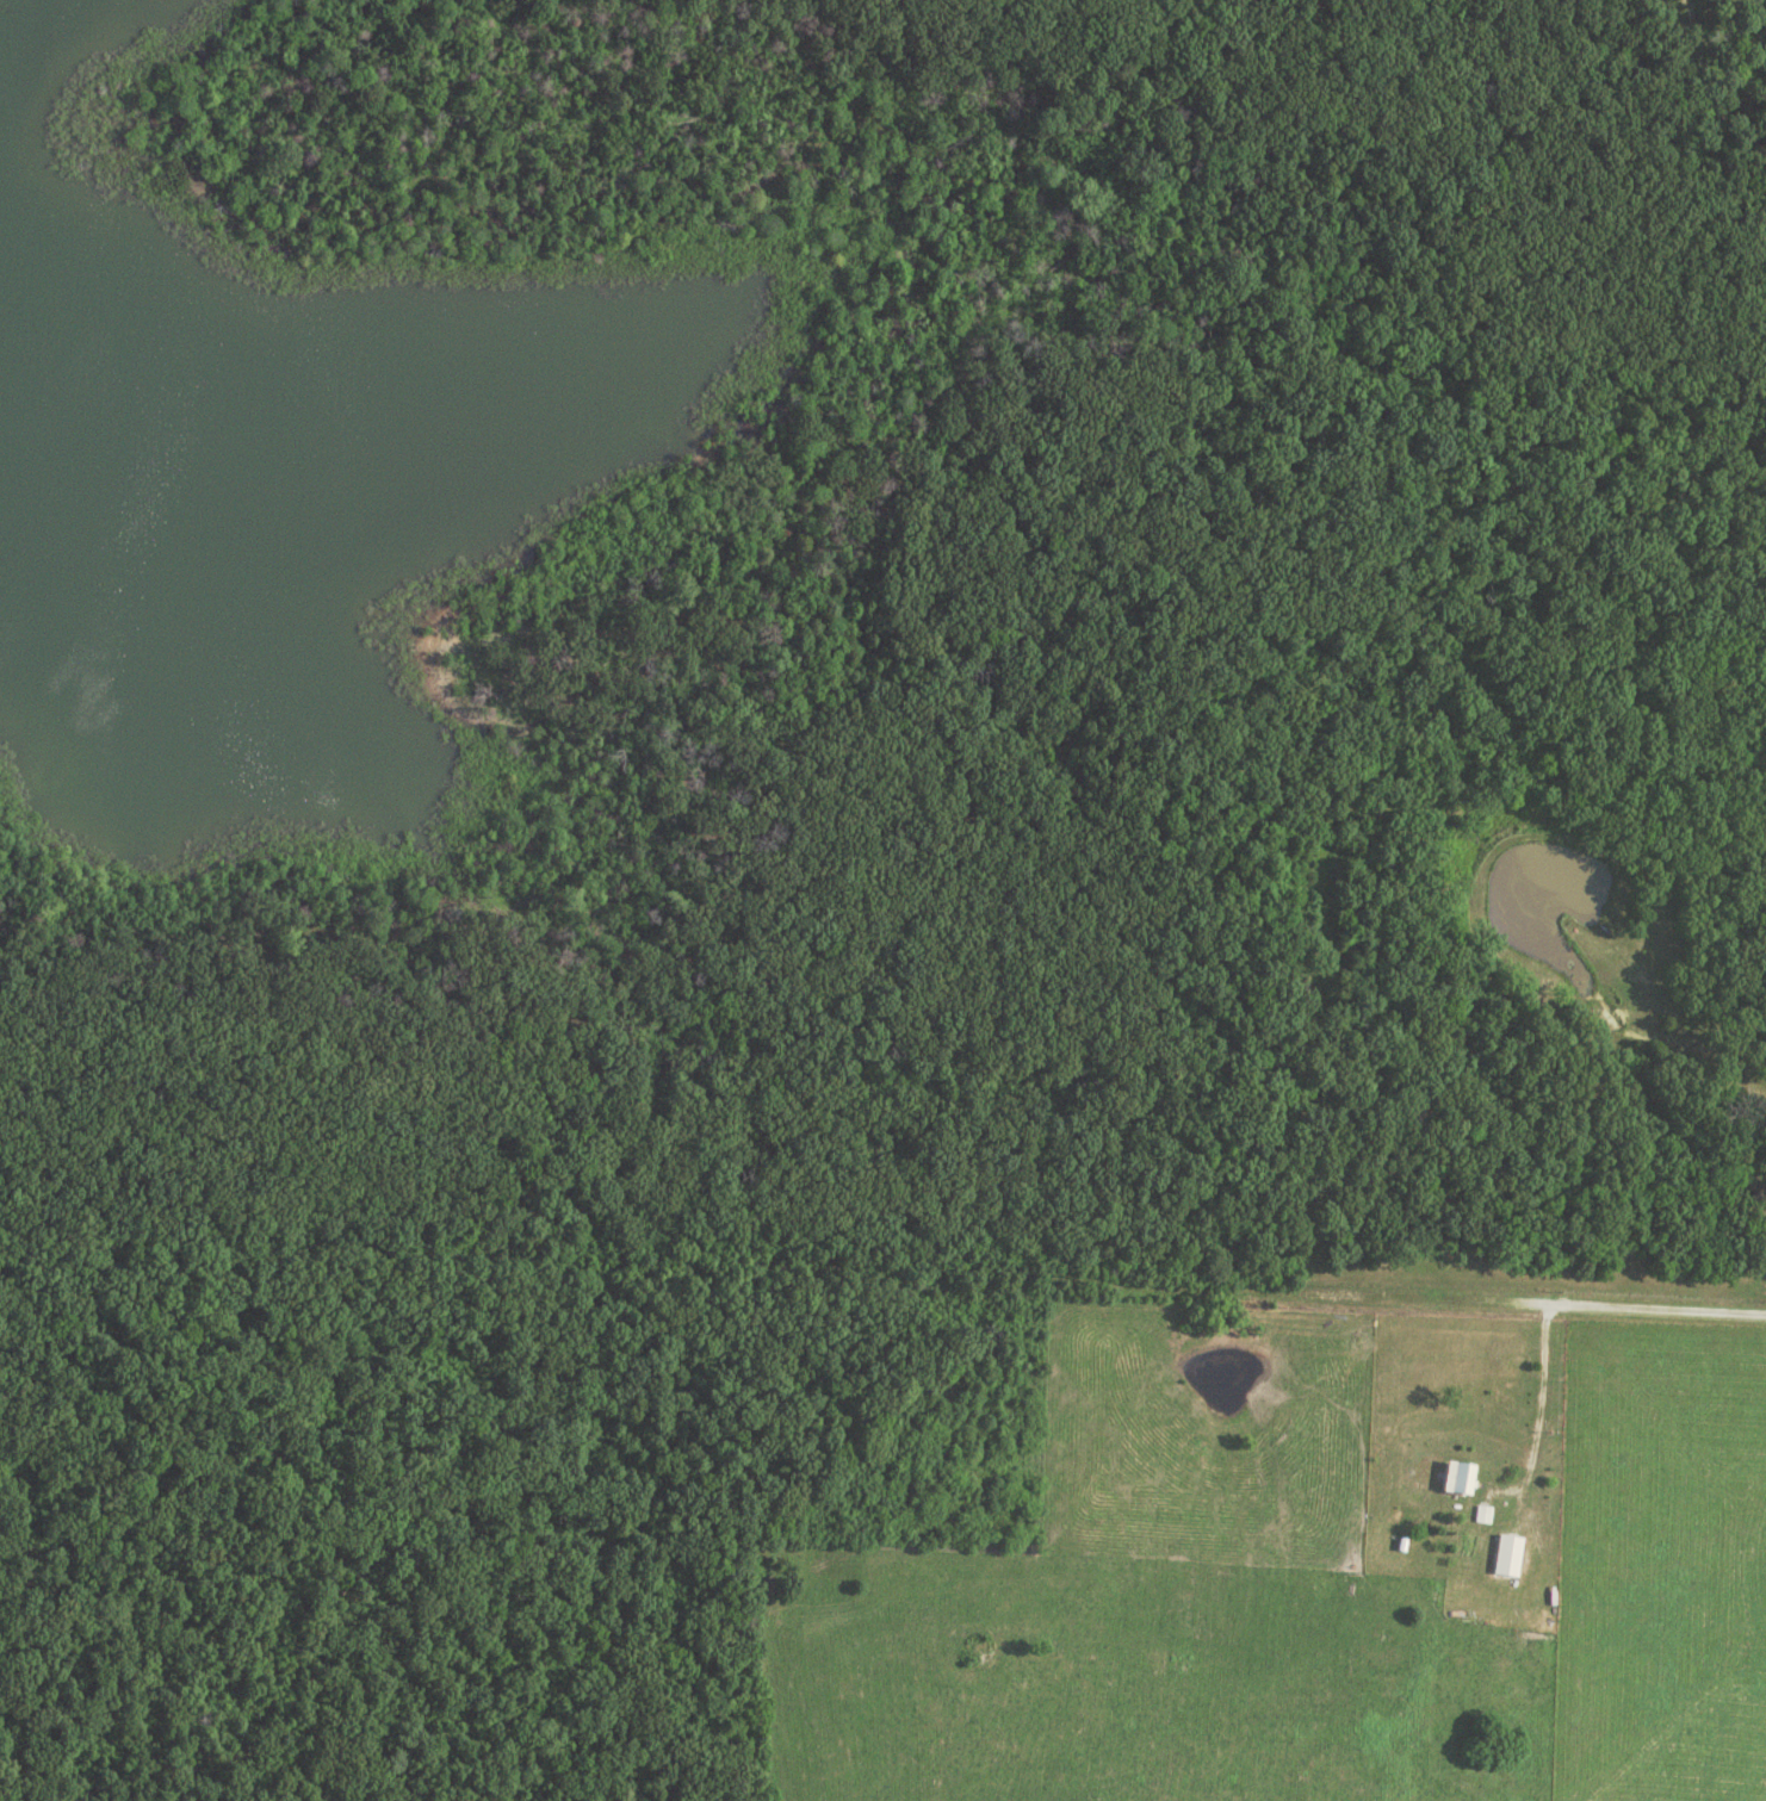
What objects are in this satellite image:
road: (882, 1272)
building: (1460, 1479)

